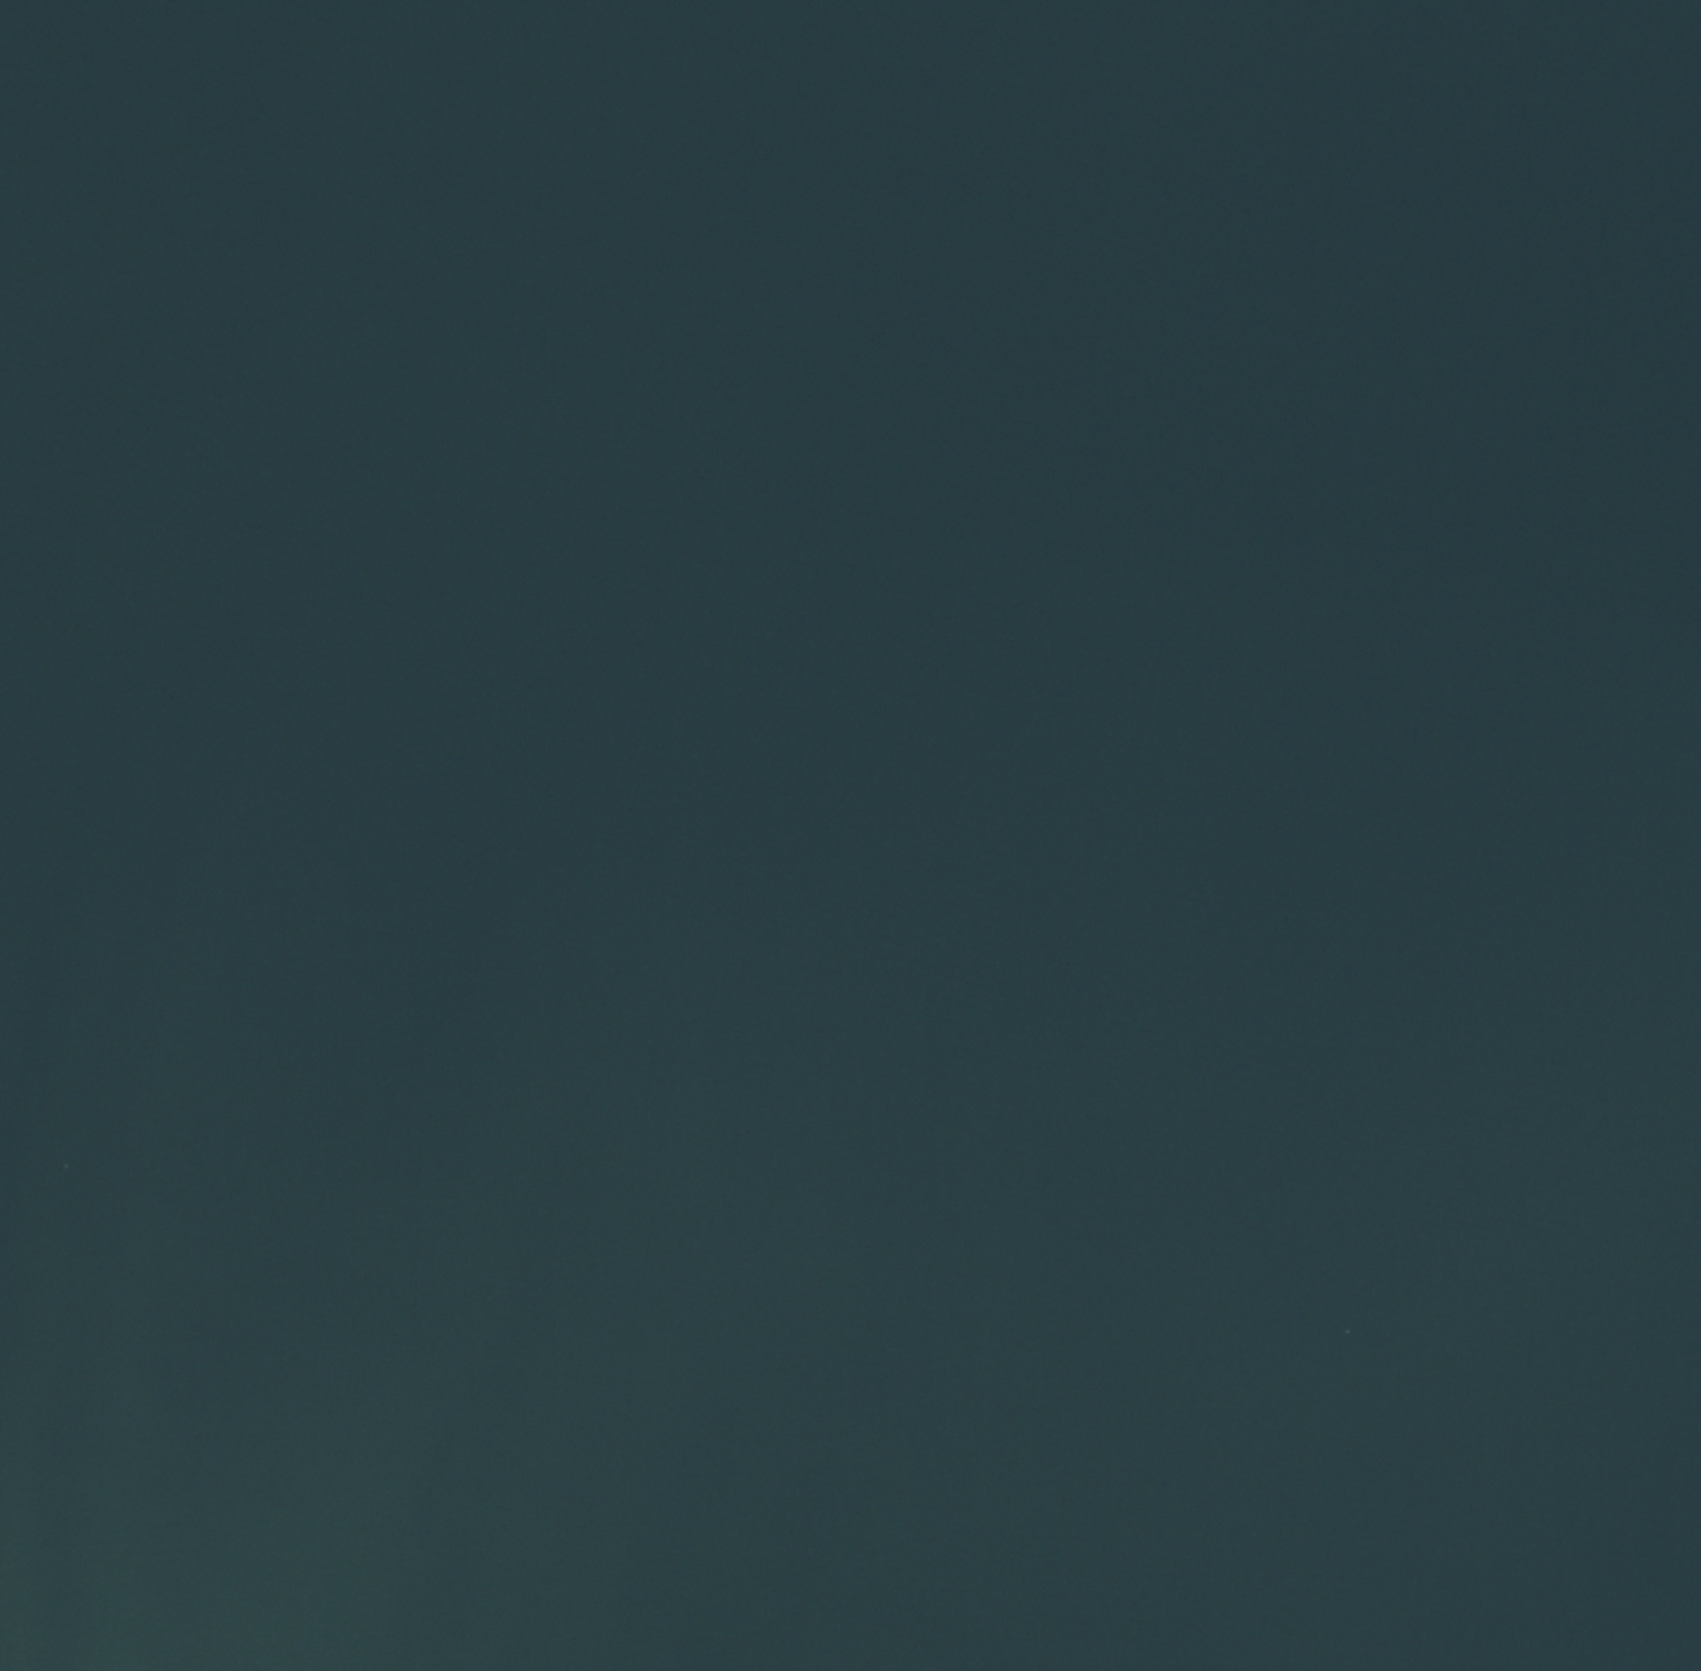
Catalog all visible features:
river: (1238, 138)

